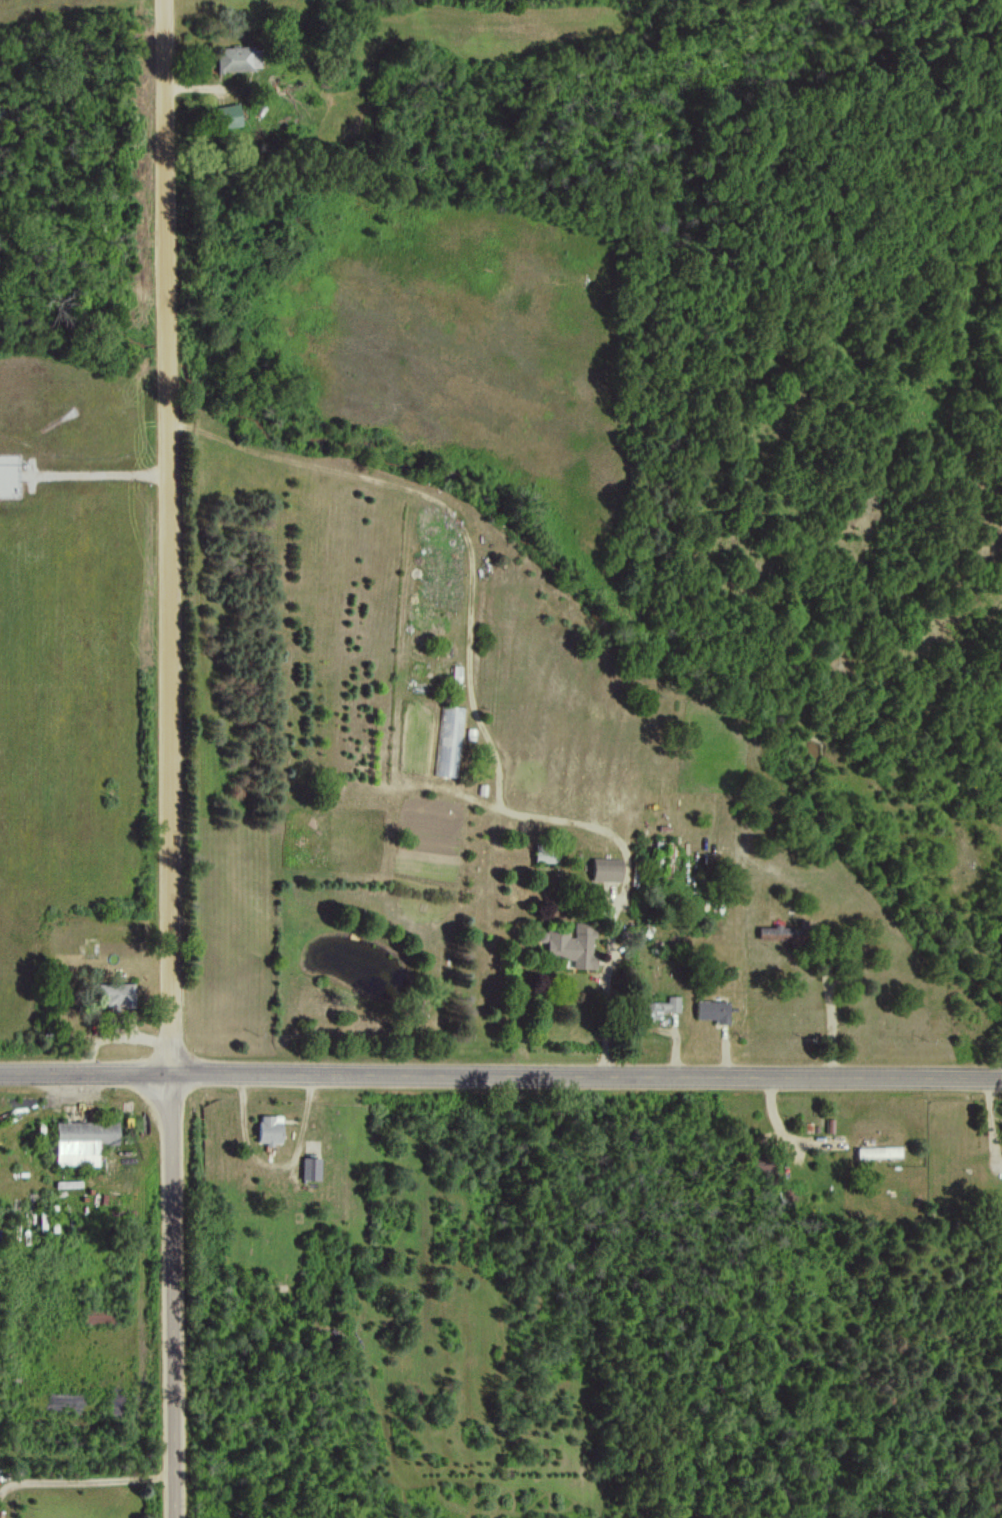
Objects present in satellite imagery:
building: (237, 58)
building: (226, 115)
building: (8, 474)
road: (453, 509)
building: (447, 741)
road: (167, 758)
building: (543, 856)
building: (604, 869)
road: (626, 875)
building: (773, 932)
building: (570, 945)
building: (115, 995)
building: (660, 1007)
building: (711, 1010)
road: (834, 1015)
road: (501, 1075)
road: (786, 1128)
building: (268, 1129)
building: (81, 1142)
building: (878, 1151)
building: (310, 1168)
road: (83, 1468)

